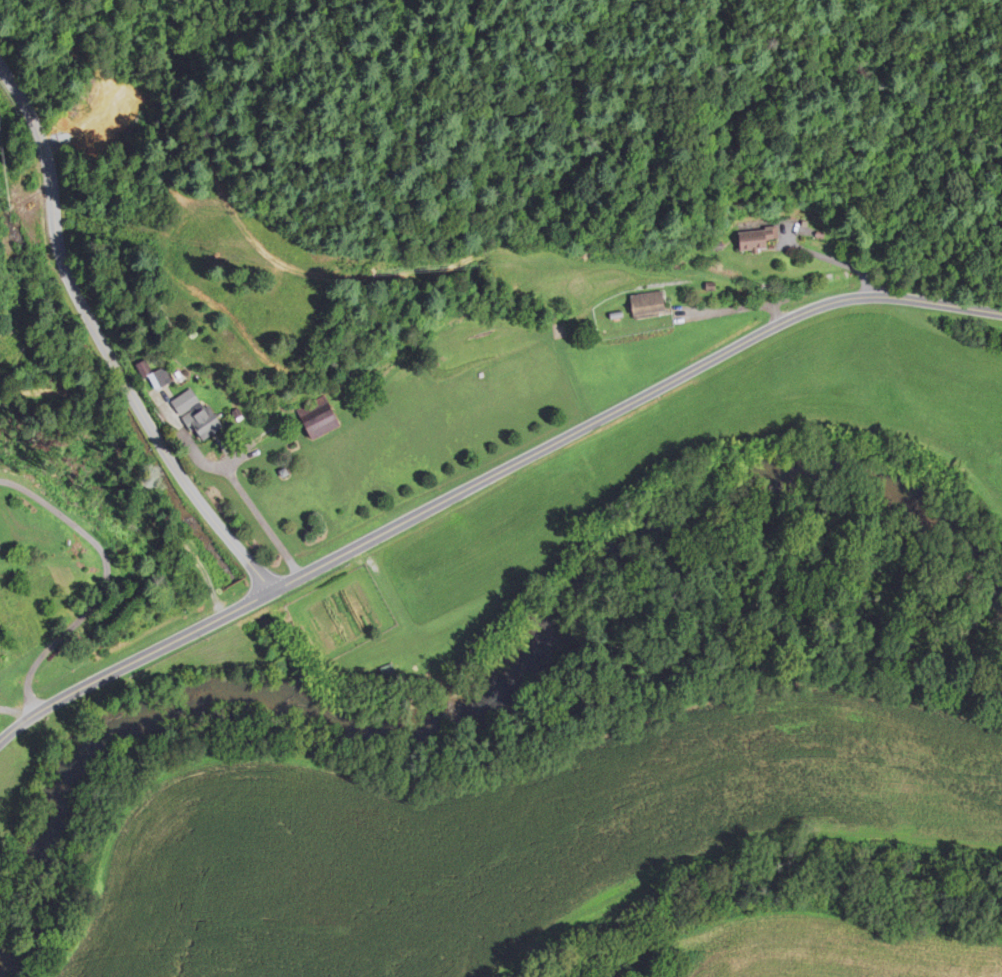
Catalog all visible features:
building: (19, 183)
building: (650, 305)
building: (482, 336)
building: (464, 338)
road: (102, 344)
building: (149, 375)
building: (192, 414)
building: (324, 425)
road: (489, 476)
road: (106, 583)
river: (487, 699)

